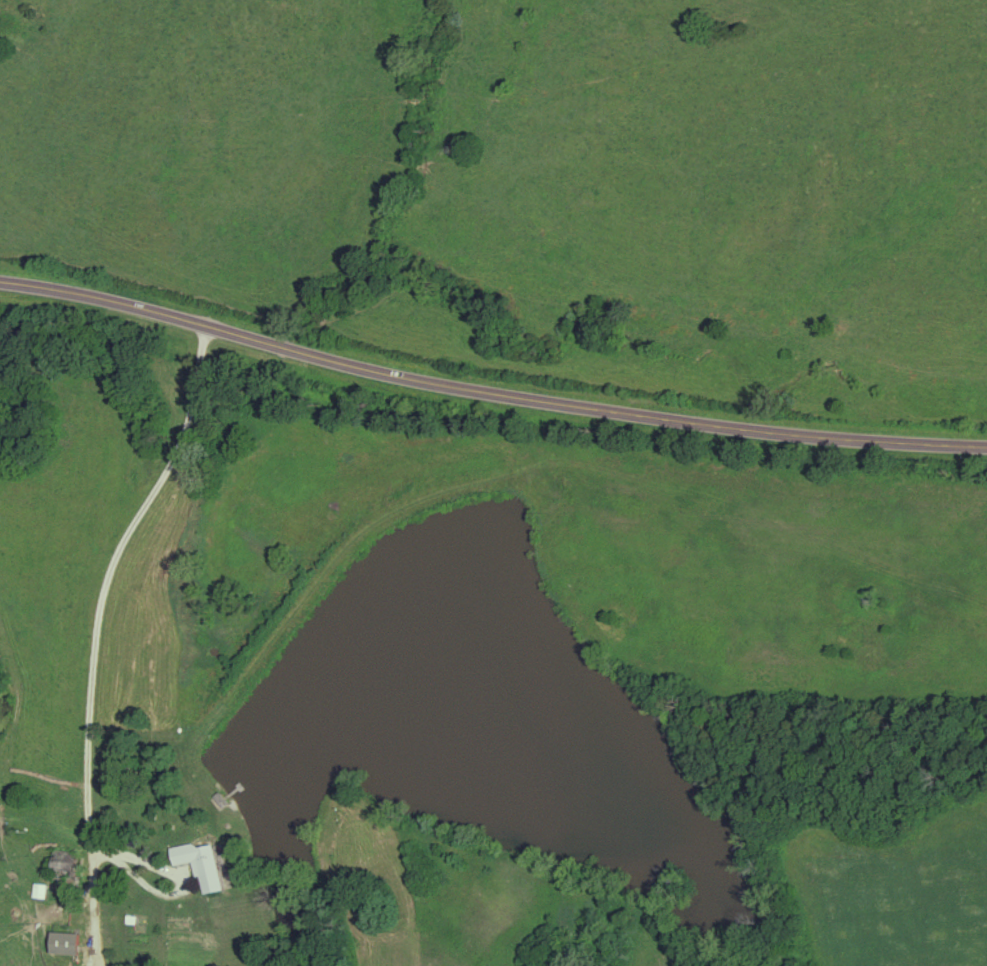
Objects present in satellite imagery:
road: (488, 397)
road: (100, 636)
building: (60, 862)
road: (158, 862)
building: (202, 865)
road: (140, 873)
building: (62, 944)

